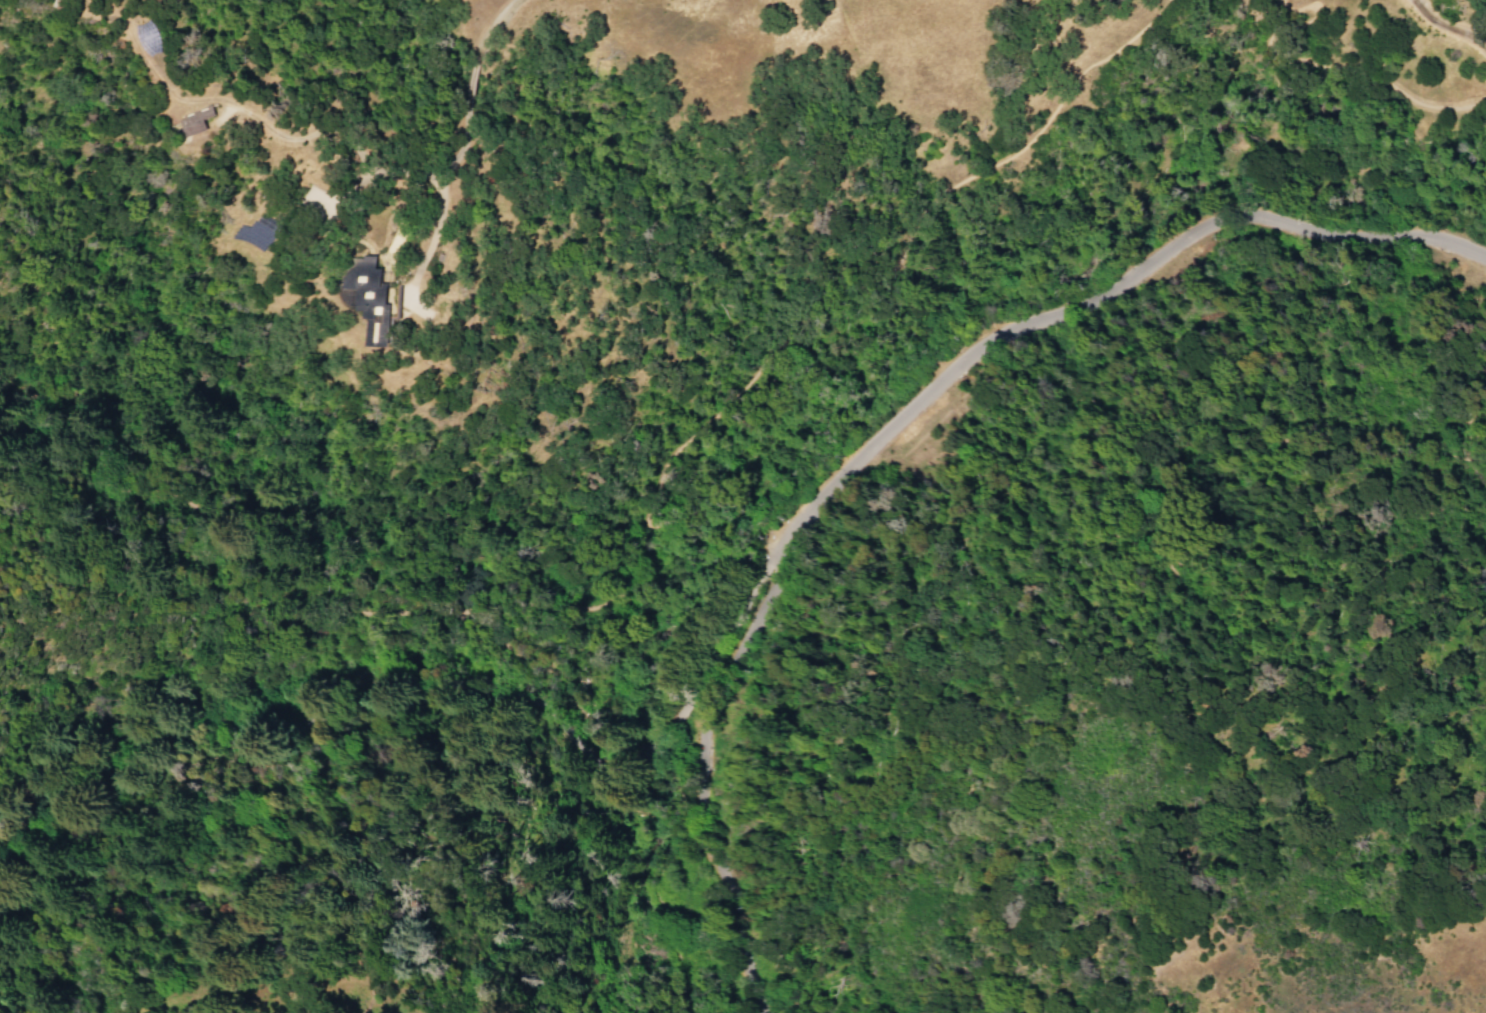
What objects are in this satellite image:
road: (1444, 25)
solar farm: (151, 38)
road: (1321, 66)
building: (196, 120)
road: (350, 144)
solar farm: (255, 232)
road: (428, 247)
building: (370, 297)
road: (756, 370)
road: (893, 423)
road: (1455, 436)
road: (1105, 538)
road: (218, 555)
road: (511, 658)
road: (570, 705)
road: (585, 730)
road: (683, 737)
road: (667, 741)
road: (649, 744)
road: (614, 748)
road: (549, 751)
road: (665, 880)

